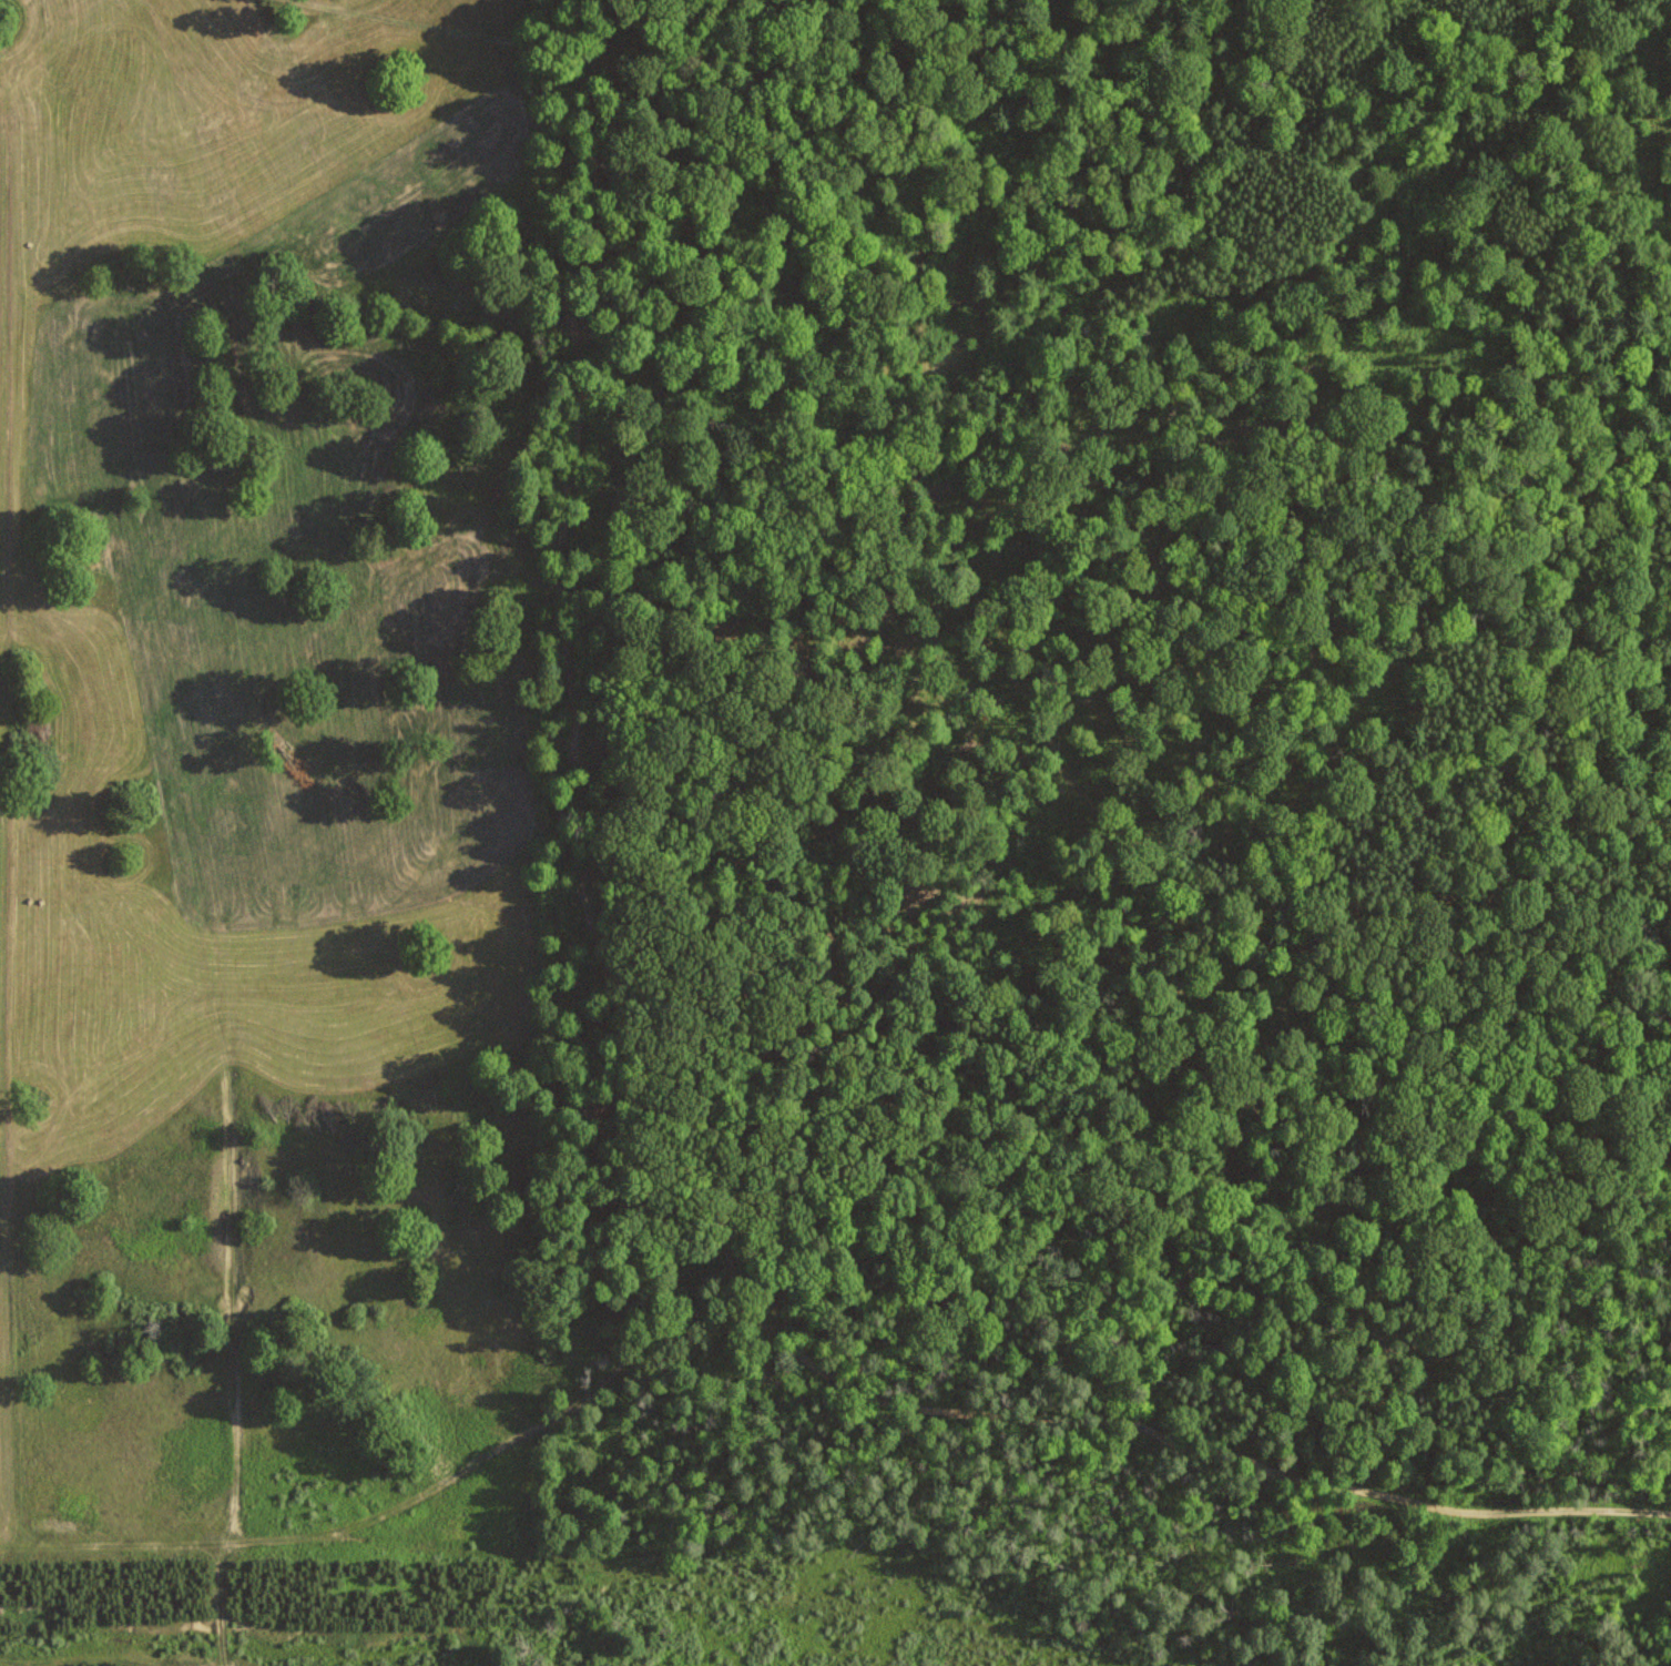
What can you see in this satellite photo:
road: (578, 47)
road: (1125, 370)
road: (1194, 893)
road: (632, 1035)
road: (1241, 1257)
road: (1271, 1426)

